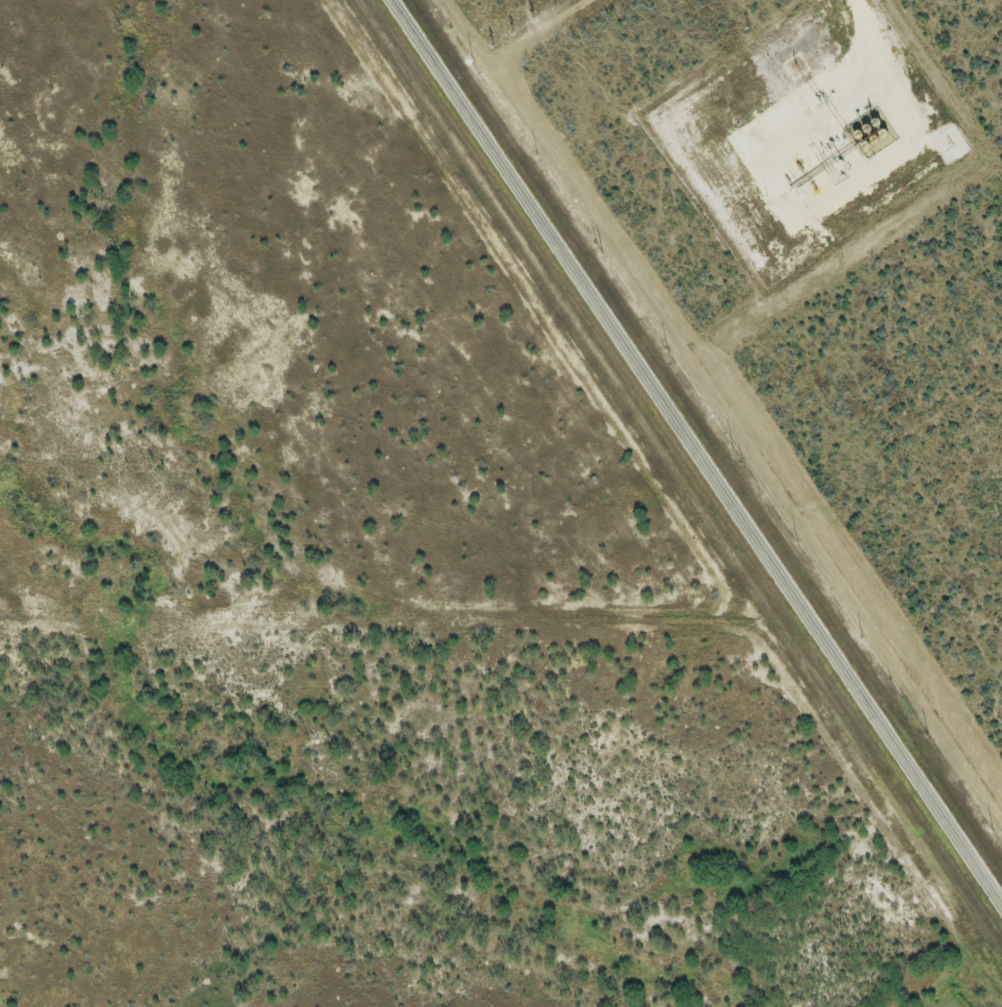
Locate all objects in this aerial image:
road: (849, 94)
road: (697, 449)

